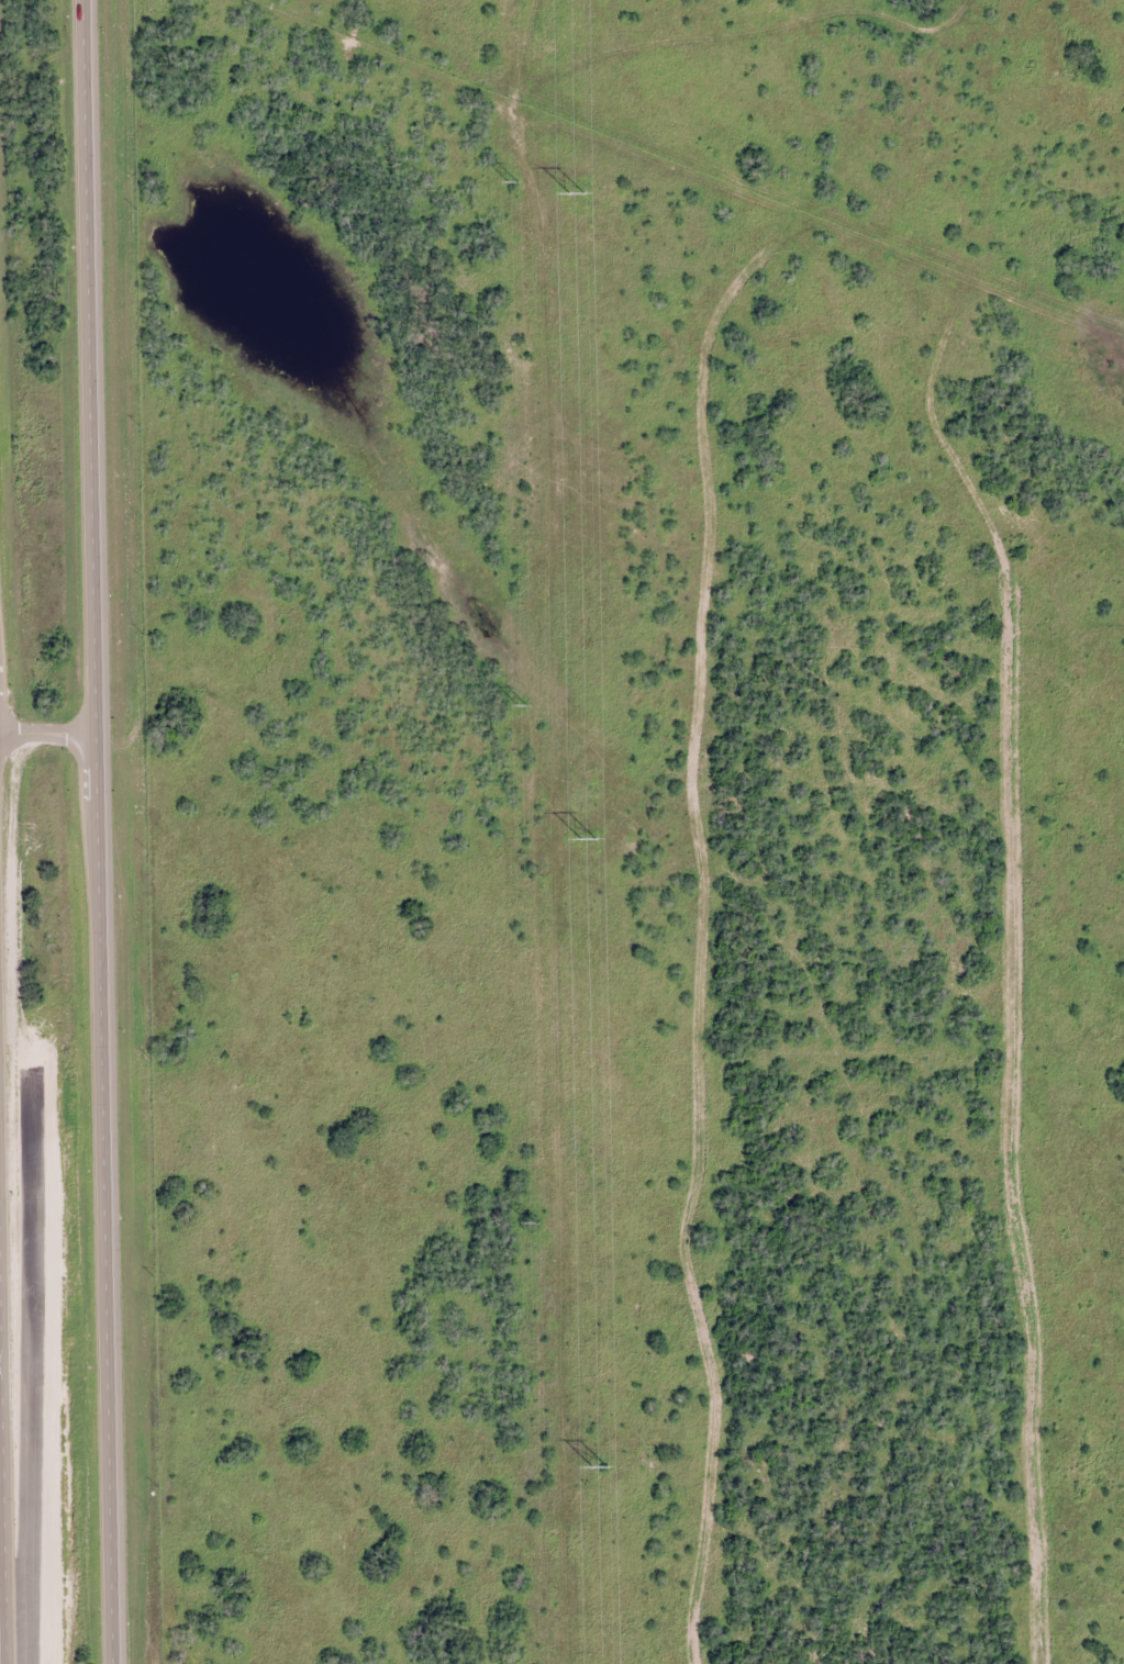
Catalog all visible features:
power tower: (513, 180)
power tower: (572, 193)
power tower: (523, 705)
road: (47, 733)
road: (97, 831)
power tower: (583, 839)
power tower: (533, 1221)
road: (29, 1372)
power tower: (594, 1467)
road: (2, 1509)

